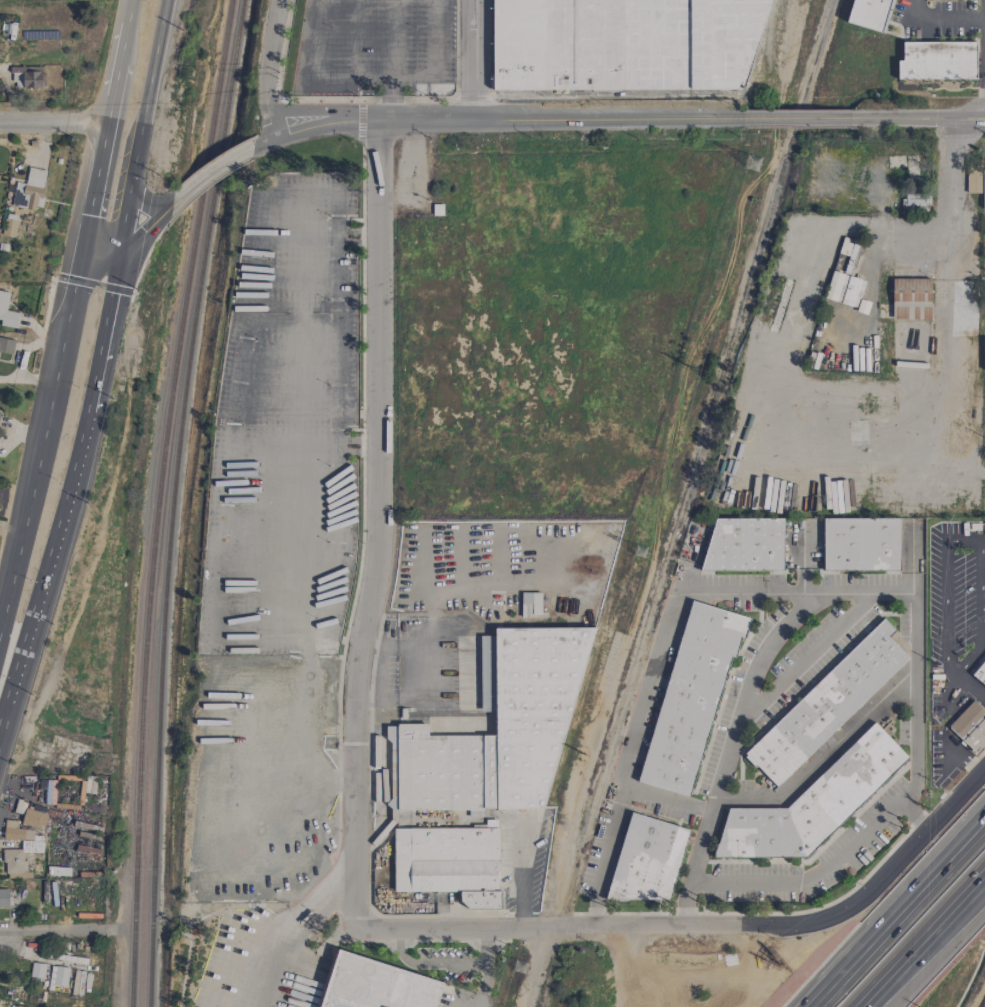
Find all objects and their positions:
road: (126, 11)
building: (870, 14)
road: (938, 19)
road: (393, 39)
road: (121, 42)
building: (629, 44)
road: (436, 59)
road: (474, 60)
building: (937, 61)
road: (266, 70)
road: (314, 76)
building: (26, 77)
road: (112, 92)
road: (392, 99)
road: (312, 110)
road: (966, 115)
road: (898, 118)
road: (560, 119)
road: (795, 119)
road: (367, 121)
road: (966, 122)
road: (53, 123)
road: (141, 123)
road: (302, 130)
road: (209, 174)
road: (94, 182)
building: (973, 182)
building: (983, 190)
building: (28, 191)
road: (146, 203)
building: (916, 203)
road: (947, 207)
building: (9, 225)
road: (146, 228)
road: (338, 236)
traffic signals: (83, 242)
road: (101, 244)
traffic signals: (120, 247)
building: (922, 271)
building: (844, 290)
building: (910, 299)
building: (7, 313)
road: (104, 328)
road: (951, 345)
building: (6, 346)
building: (983, 353)
road: (301, 421)
road: (42, 427)
road: (334, 446)
road: (318, 447)
railway: (162, 501)
railway: (174, 501)
railway: (685, 503)
road: (377, 525)
road: (964, 539)
building: (860, 544)
building: (744, 545)
road: (982, 547)
road: (47, 572)
road: (983, 601)
building: (530, 604)
road: (801, 657)
building: (980, 674)
road: (970, 686)
road: (913, 687)
building: (690, 696)
building: (826, 705)
building: (970, 727)
building: (495, 731)
road: (822, 757)
road: (962, 757)
road: (664, 803)
building: (812, 804)
building: (34, 818)
road: (913, 842)
building: (648, 860)
building: (449, 864)
building: (58, 871)
road: (959, 896)
building: (4, 898)
road: (684, 901)
road: (959, 901)
road: (895, 910)
road: (595, 925)
road: (52, 931)
road: (284, 933)
road: (485, 945)
road: (427, 963)
road: (895, 965)
building: (37, 970)
building: (58, 976)
building: (374, 985)
road: (482, 987)

